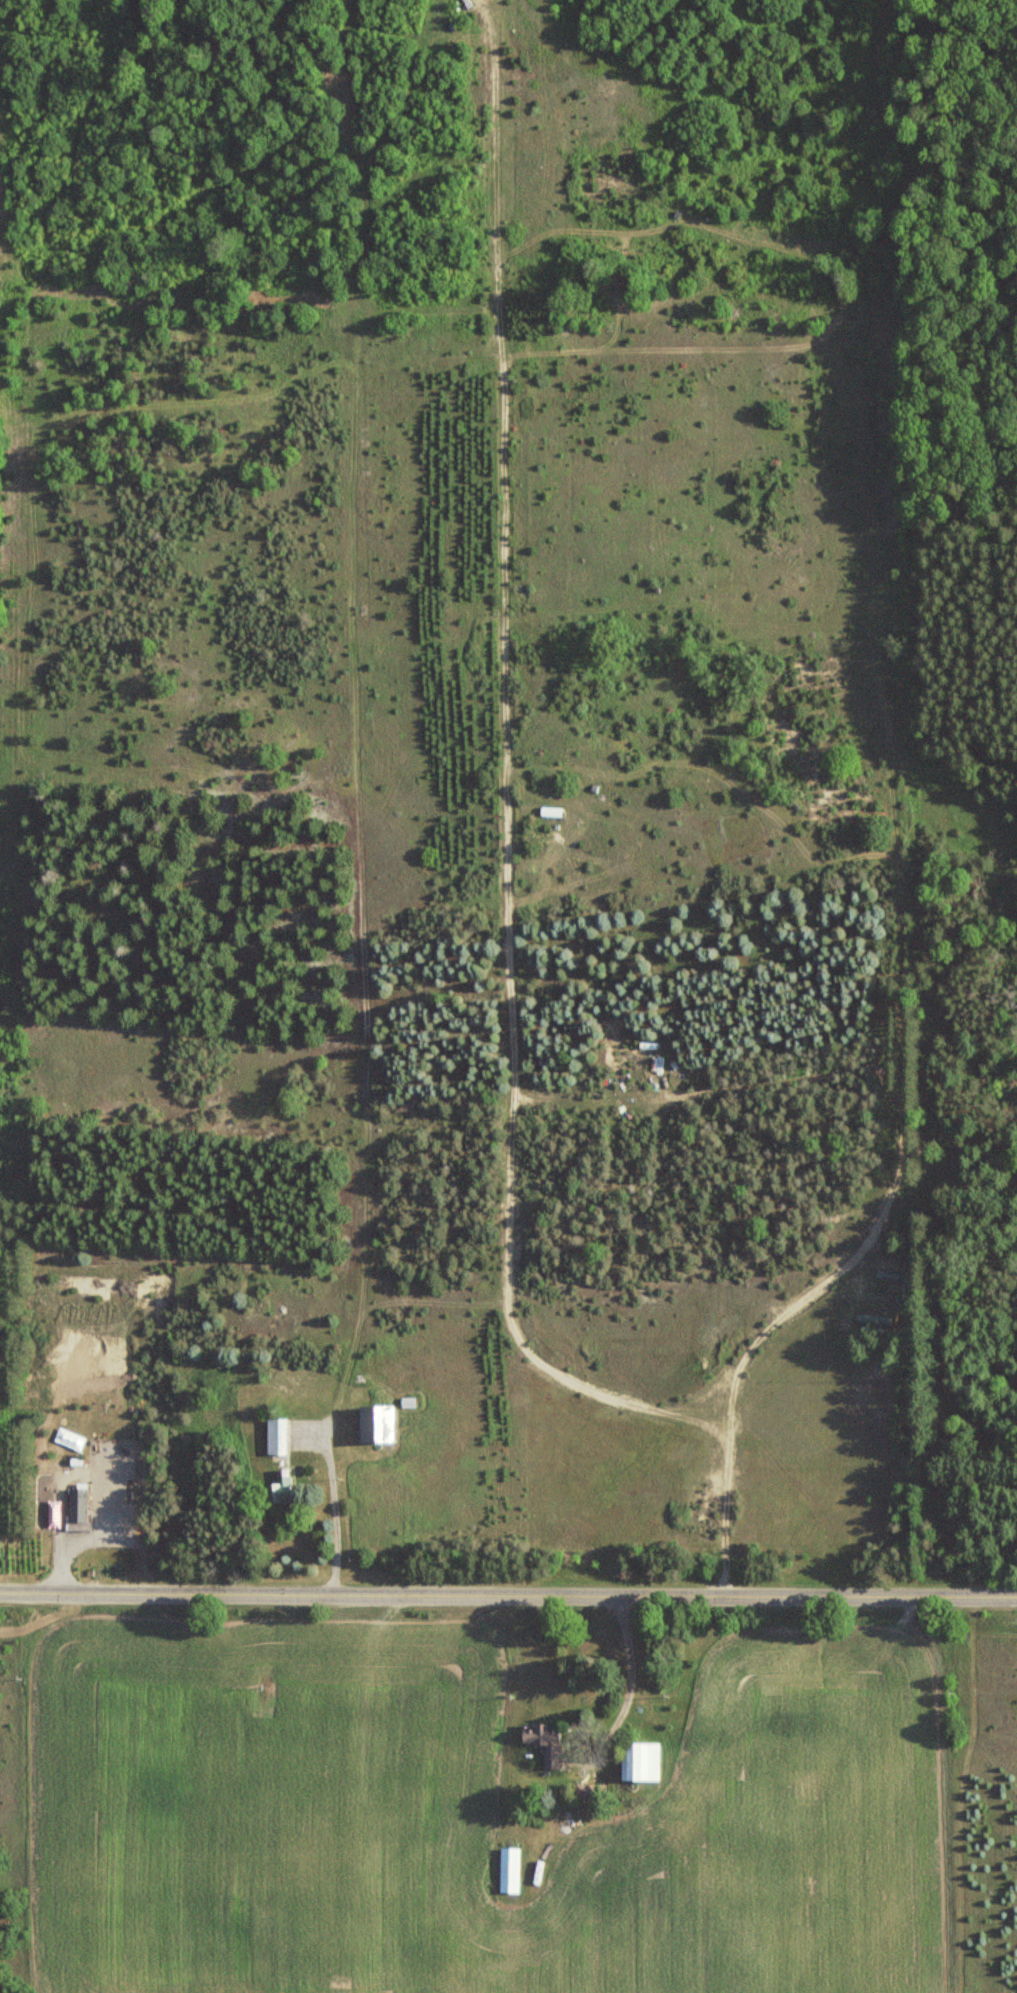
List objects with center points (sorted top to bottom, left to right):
building: (376, 1423)
building: (278, 1435)
building: (280, 1487)
building: (77, 1504)
road: (508, 1590)
building: (545, 1742)
building: (640, 1762)
building: (509, 1870)

